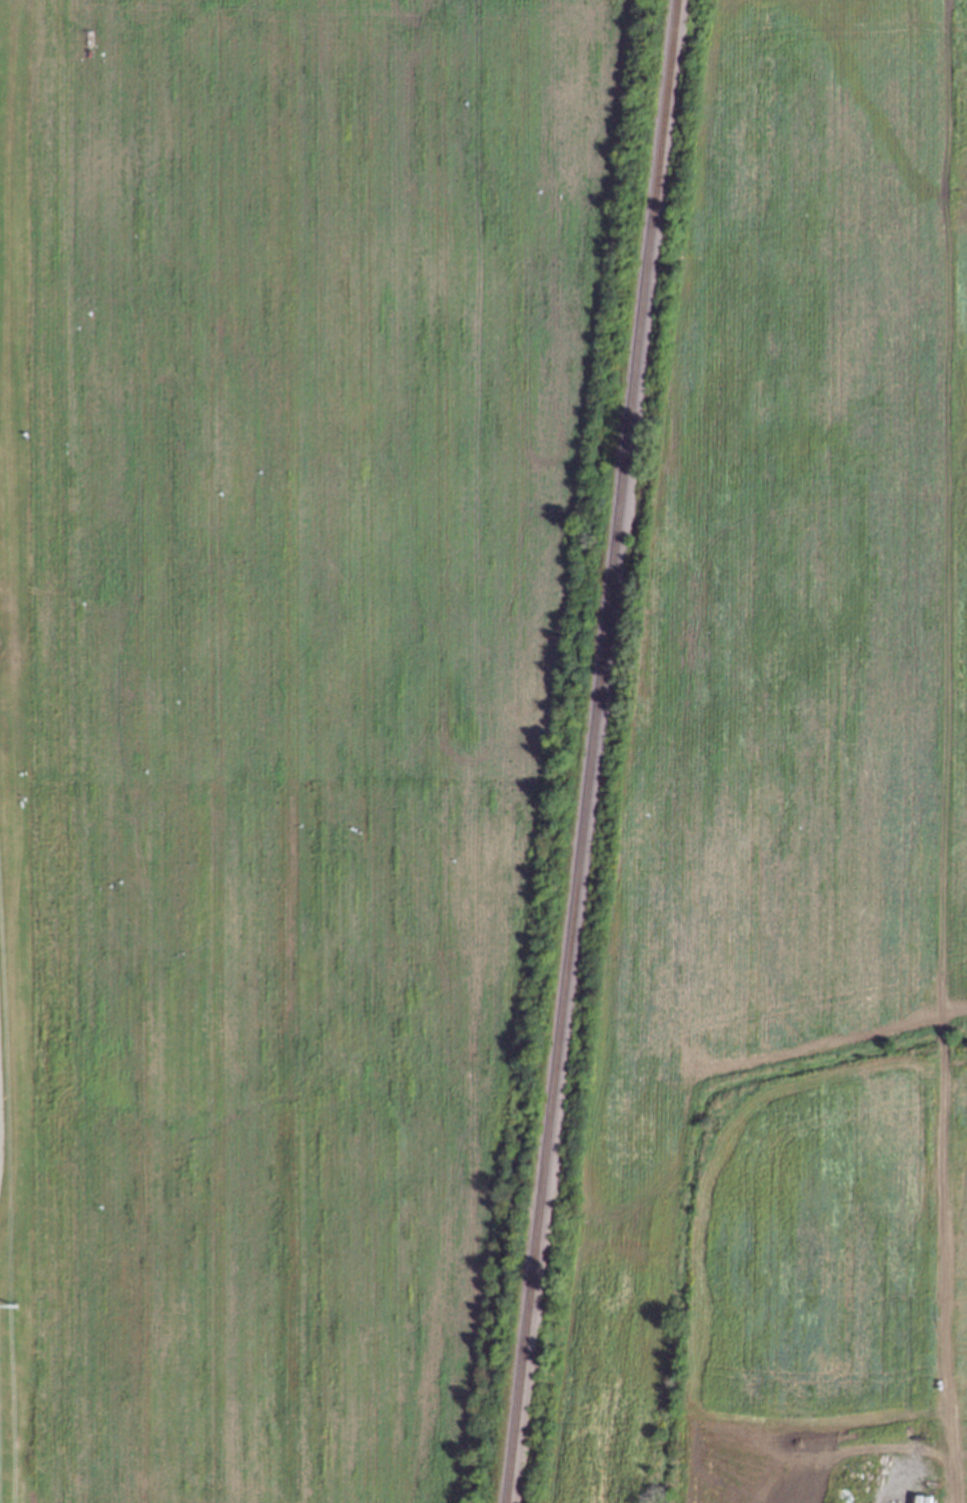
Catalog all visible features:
crop: (294, 712)
railway: (591, 751)
park: (10, 777)
crop: (790, 808)
power tower: (13, 1309)

